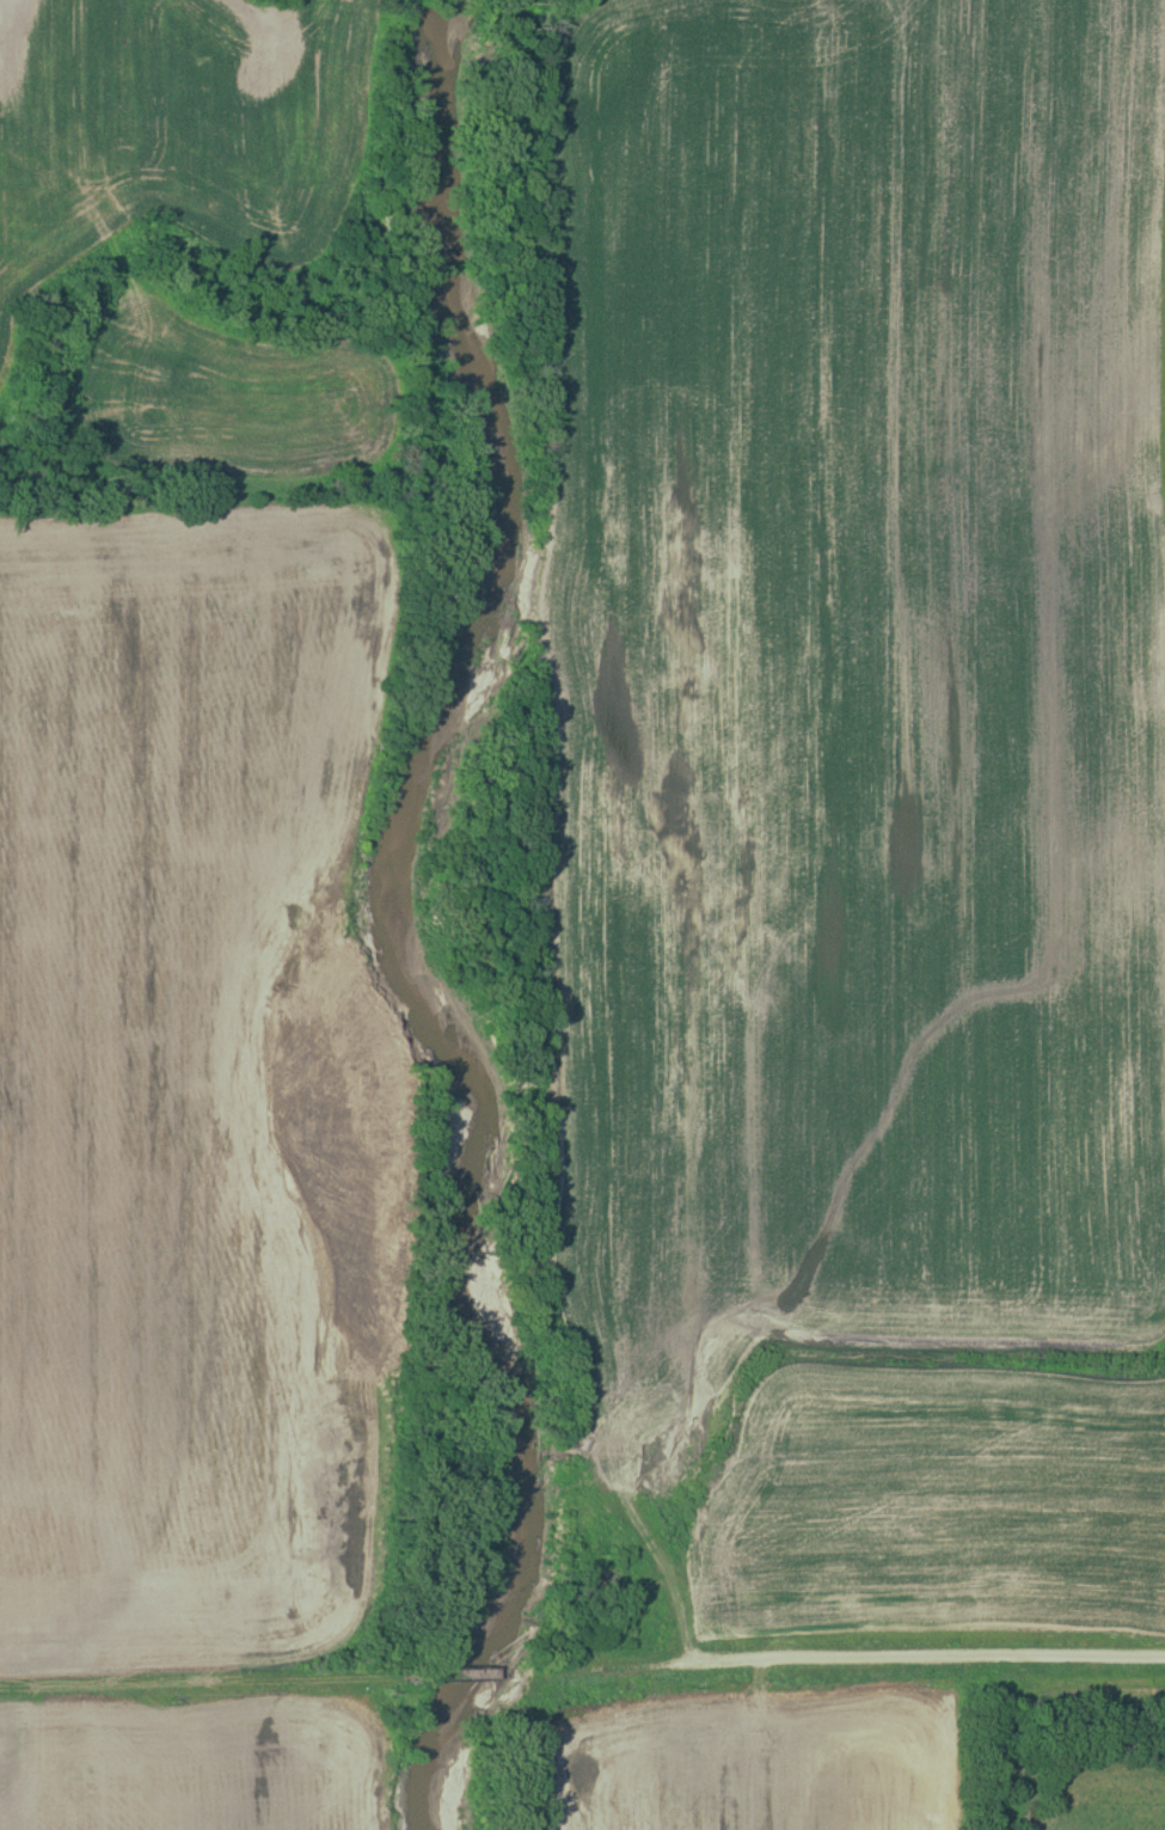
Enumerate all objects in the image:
road: (839, 1658)
road: (459, 1675)
road: (201, 1677)

